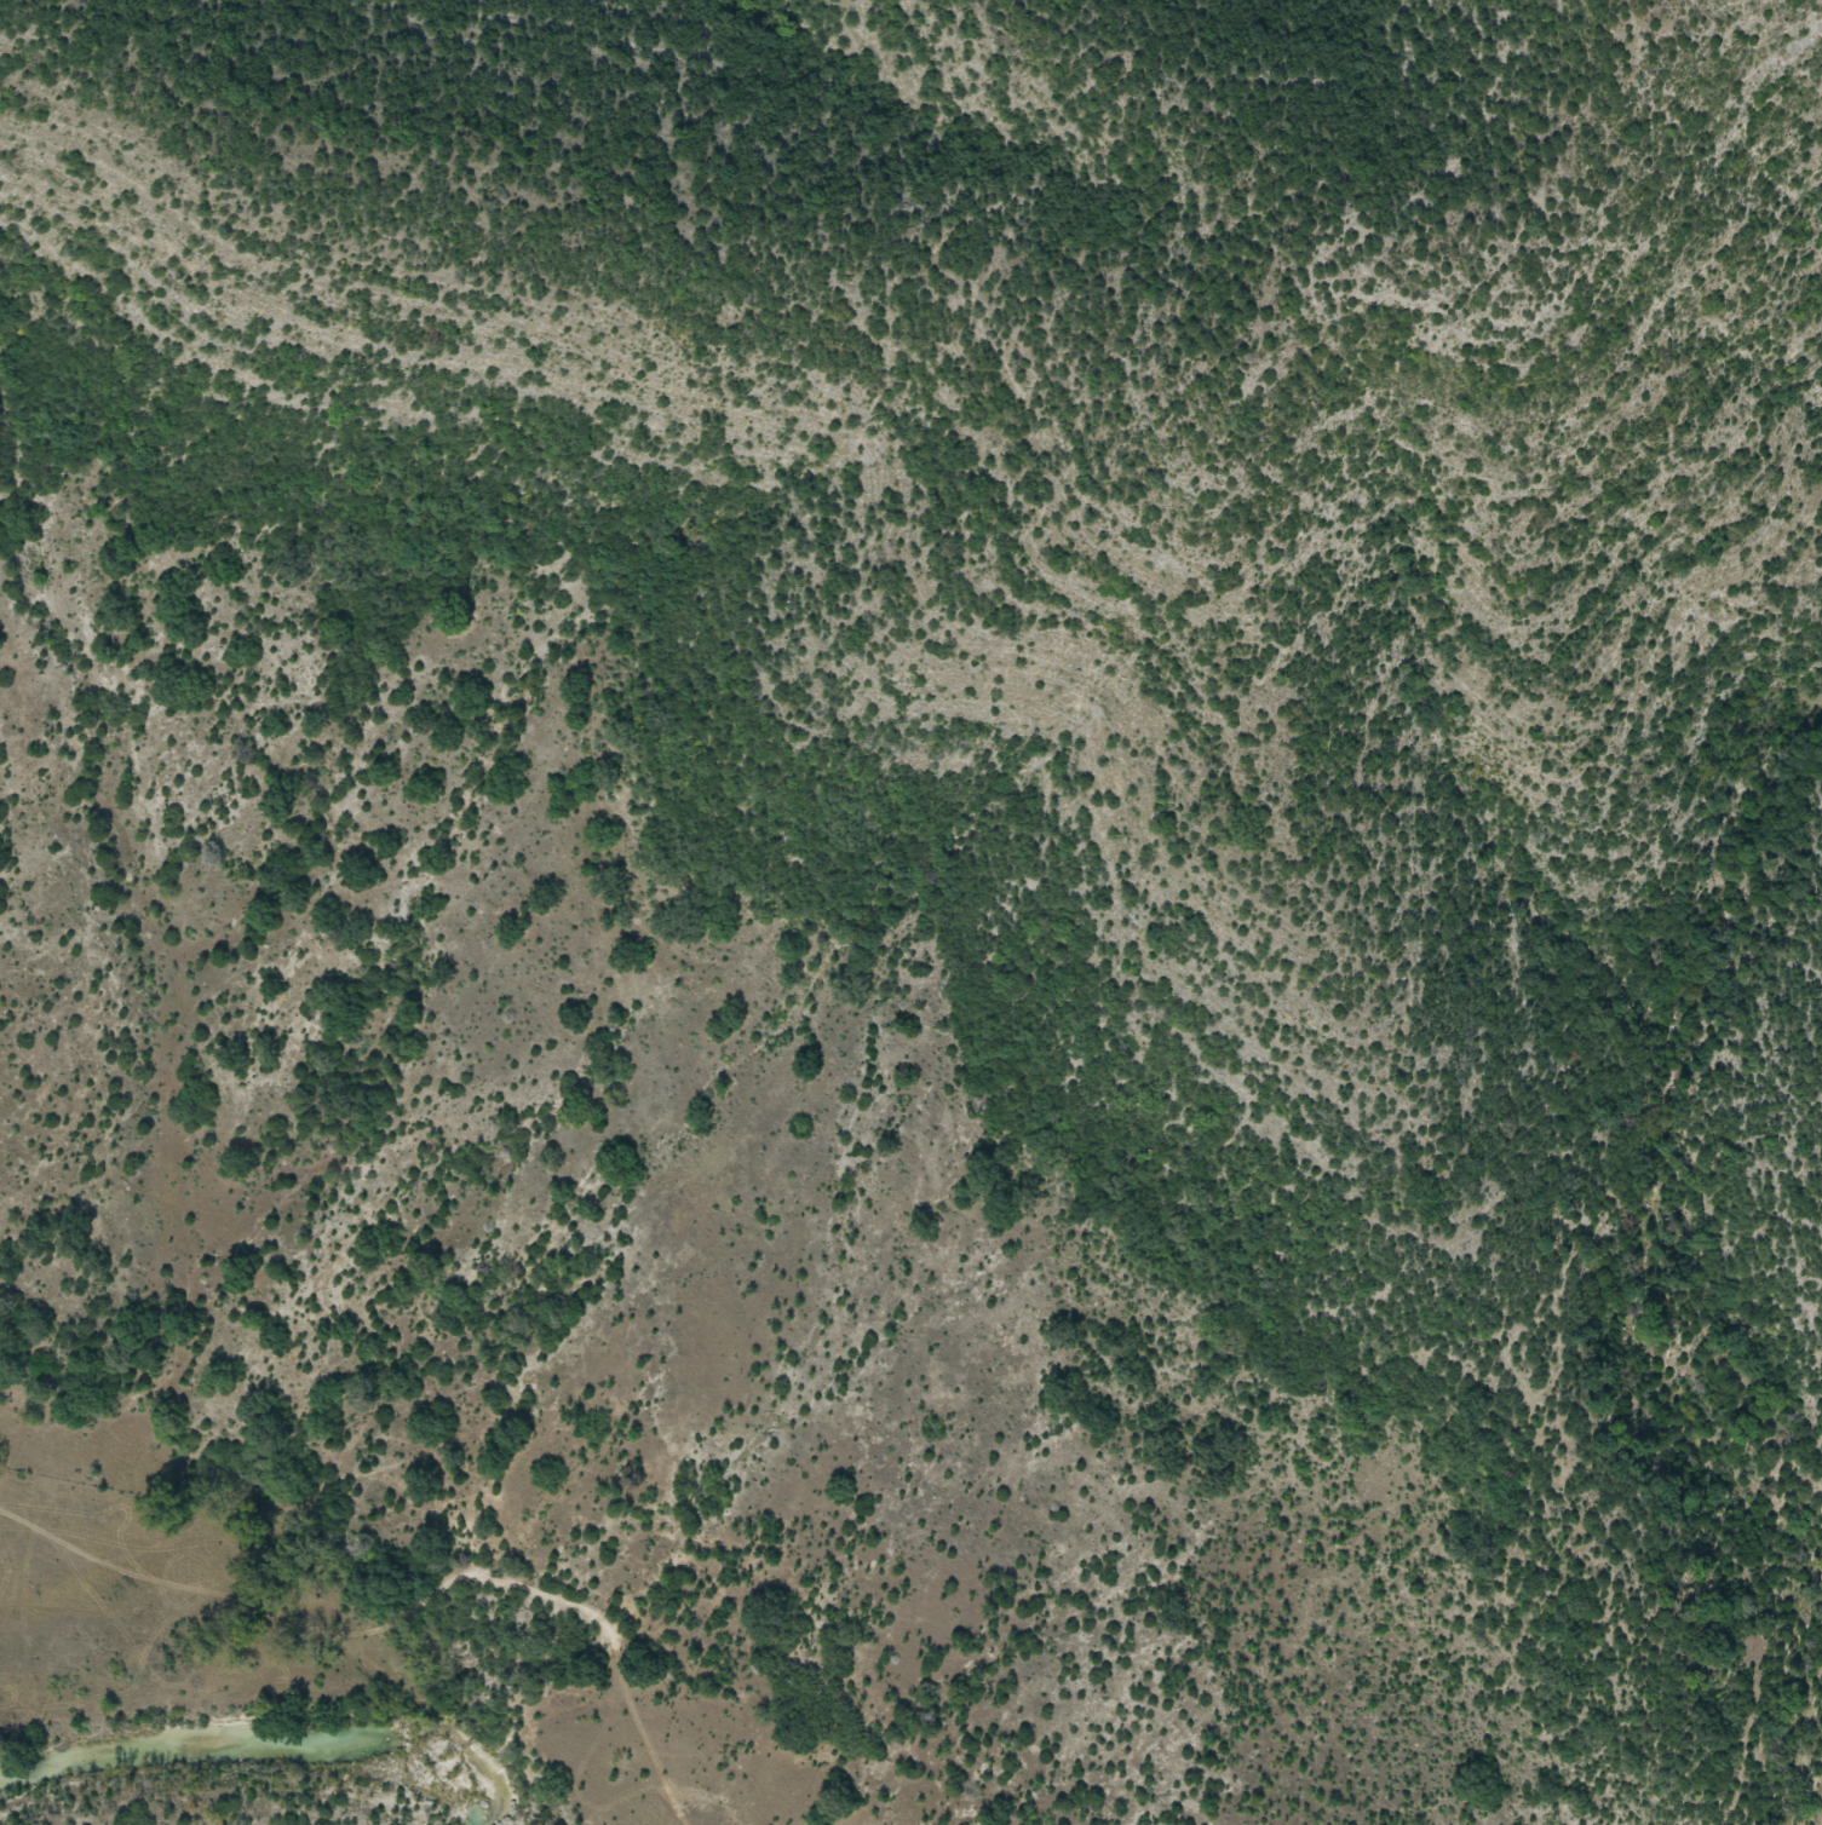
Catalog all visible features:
road: (401, 1617)
river: (278, 1733)

